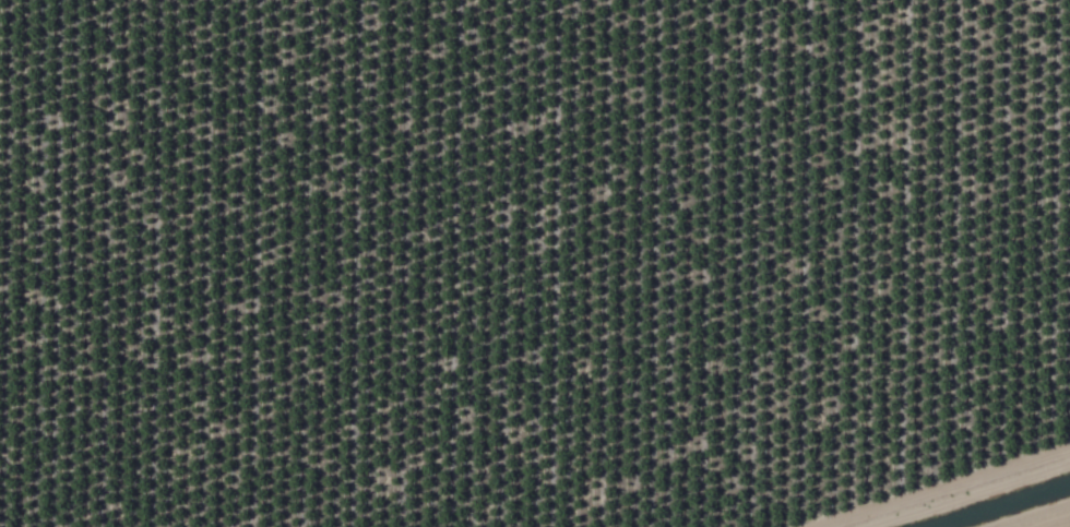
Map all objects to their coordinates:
crop: (535, 263)

